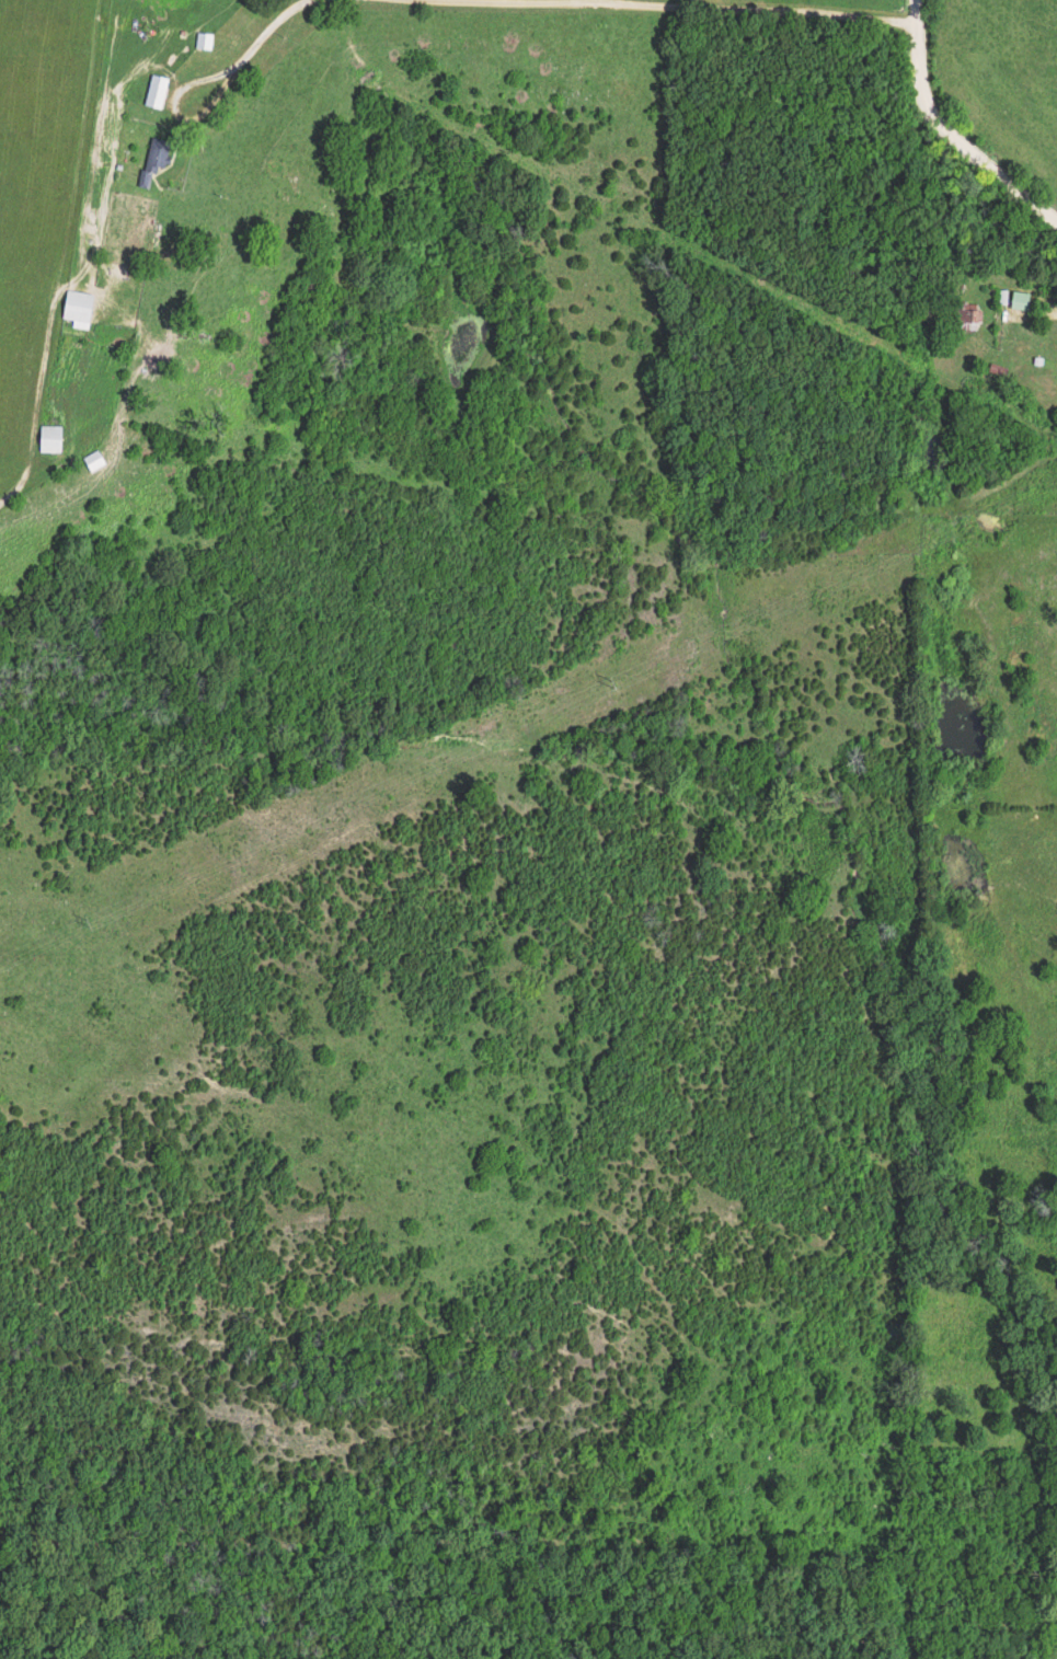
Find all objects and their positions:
building: (209, 43)
building: (158, 92)
road: (940, 138)
building: (80, 310)
building: (51, 440)

